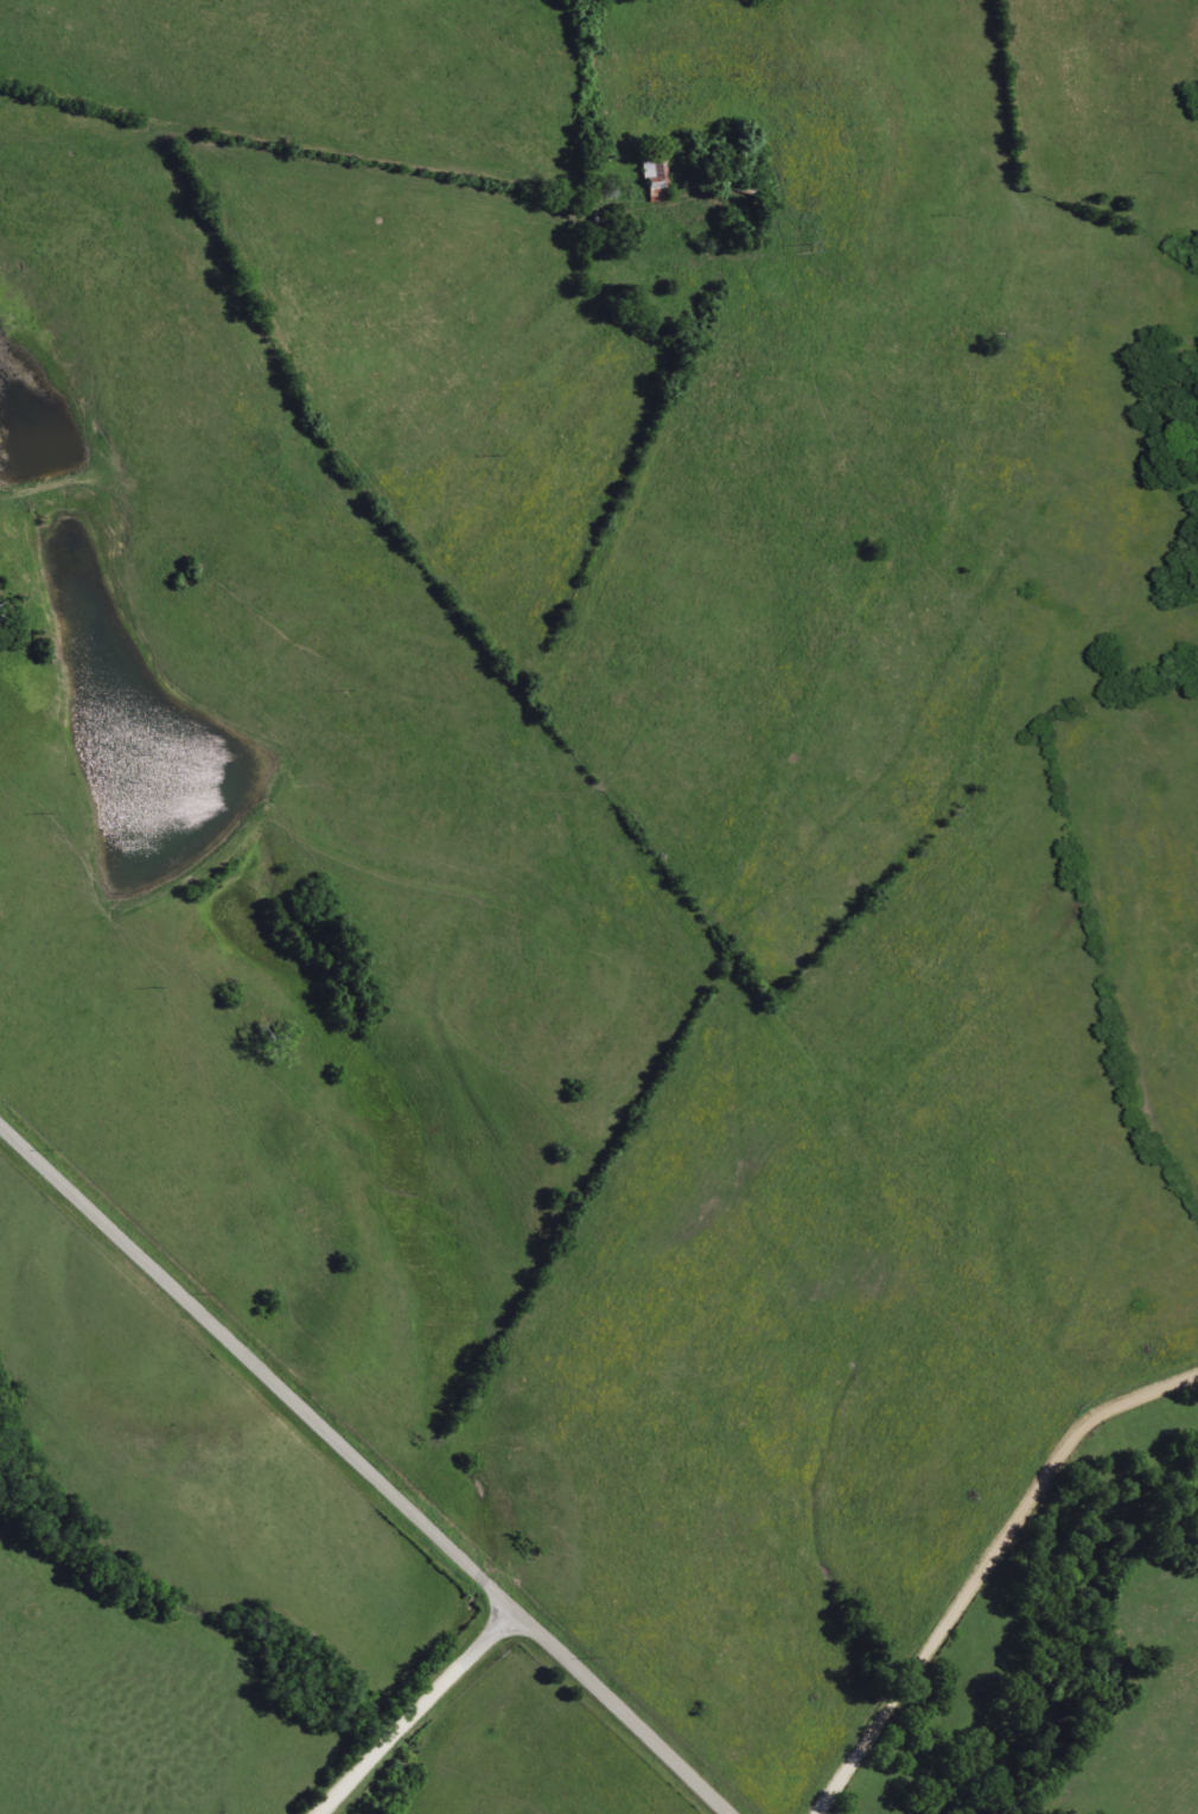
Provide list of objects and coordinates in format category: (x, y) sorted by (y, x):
building: (655, 179)
road: (365, 1470)
road: (984, 1567)
road: (421, 1712)

